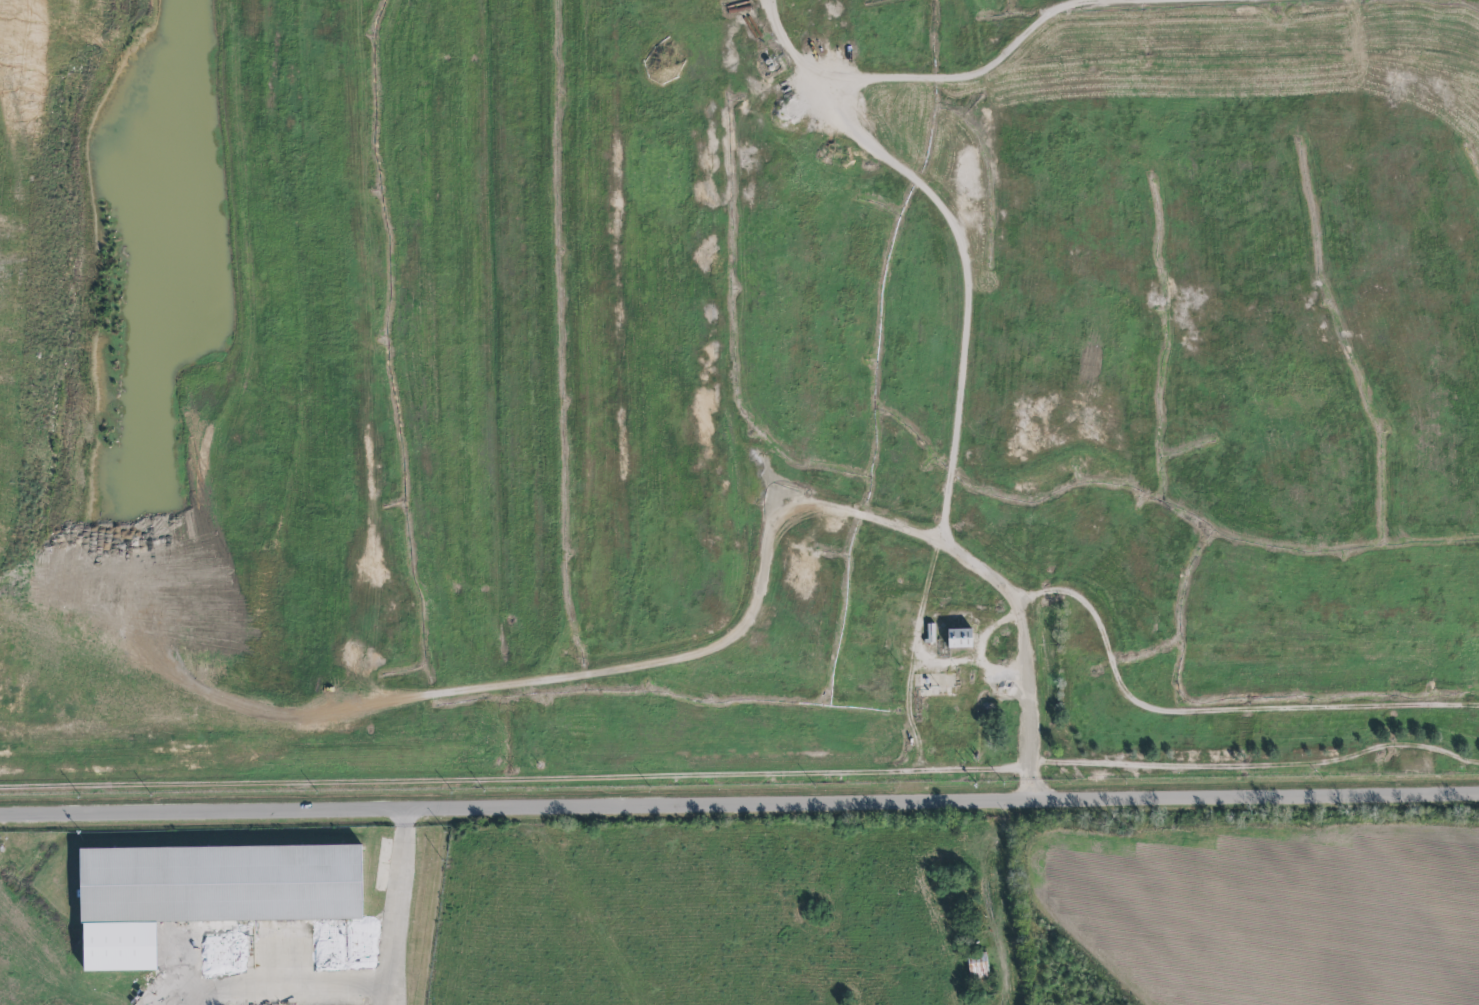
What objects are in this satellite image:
road: (772, 5)
road: (1059, 14)
road: (967, 230)
road: (42, 266)
building: (930, 633)
building: (961, 638)
road: (1120, 639)
road: (685, 665)
road: (1308, 703)
road: (739, 803)
building: (217, 884)
road: (401, 906)
building: (977, 966)
road: (277, 990)
road: (181, 1002)

